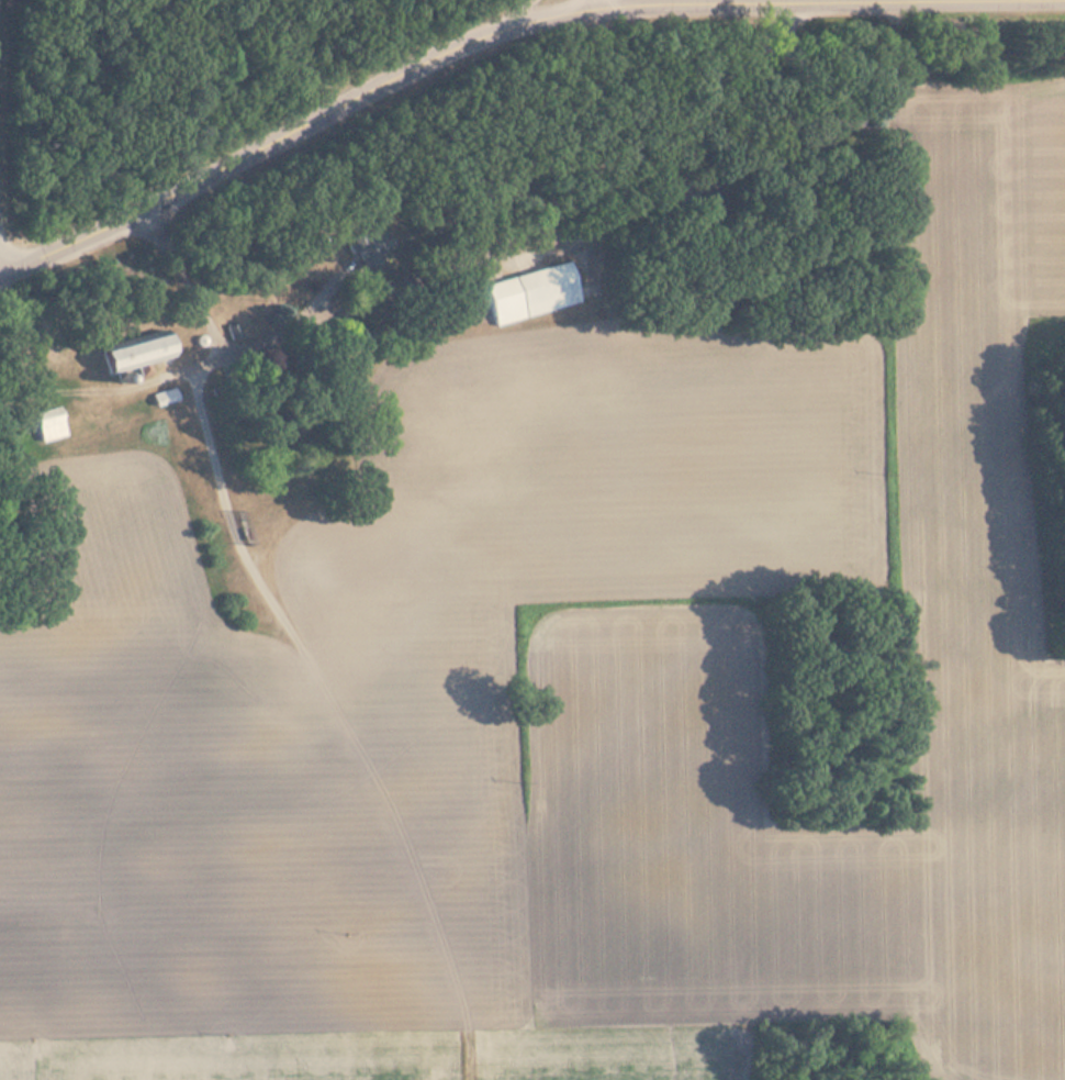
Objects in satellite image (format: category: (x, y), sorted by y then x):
road: (564, 1)
road: (755, 1)
road: (352, 102)
road: (72, 242)
building: (371, 252)
road: (483, 258)
building: (534, 294)
building: (141, 352)
building: (283, 428)

